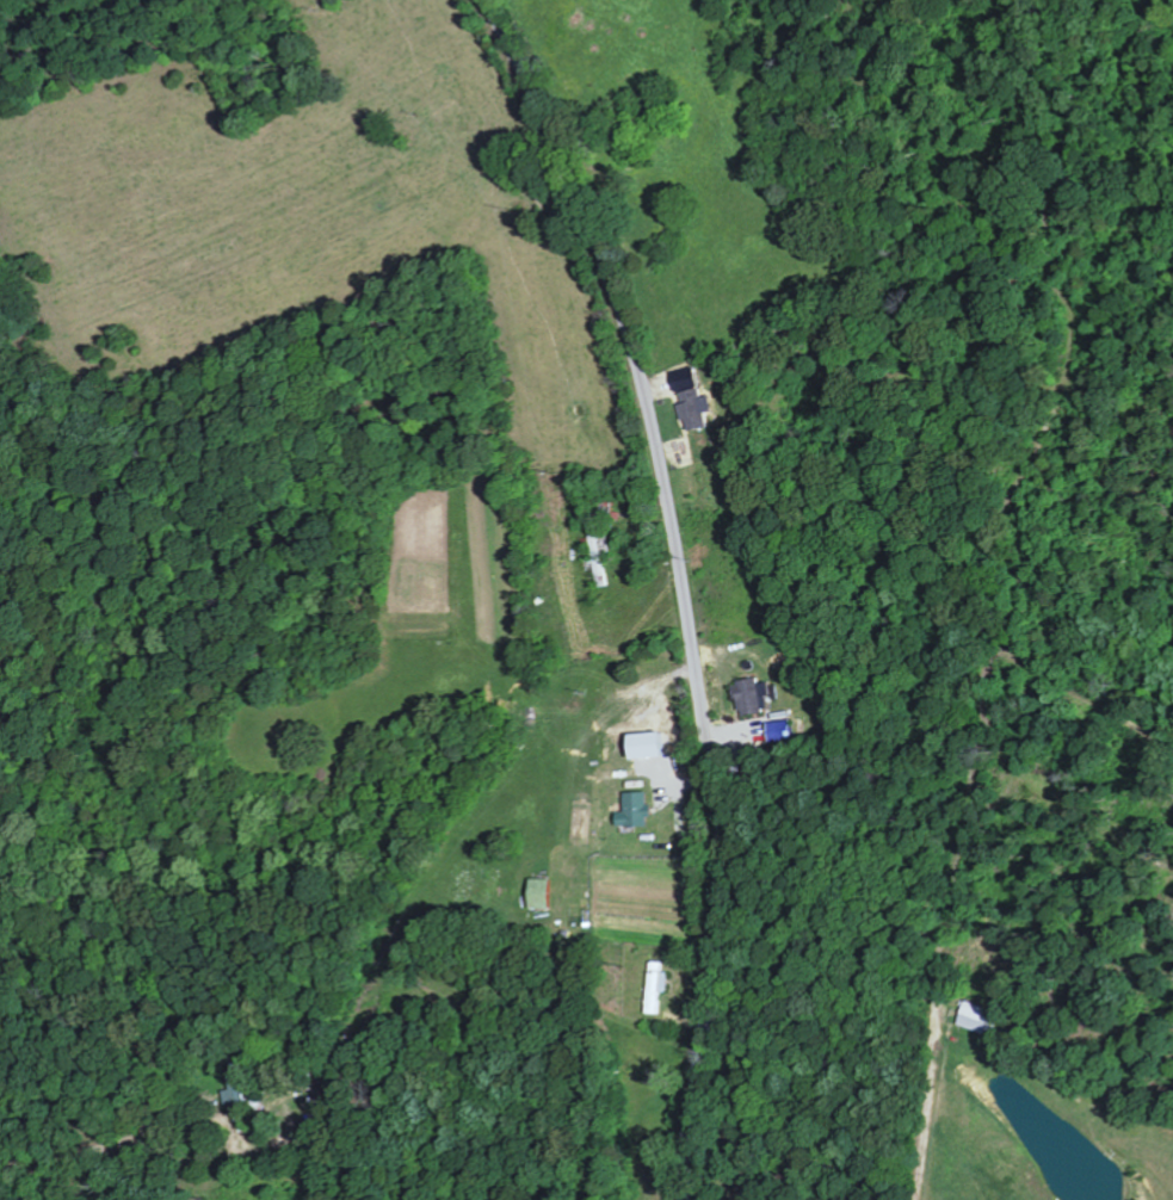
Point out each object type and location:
building: (687, 400)
road: (679, 584)
building: (748, 697)
building: (631, 811)
building: (654, 988)
building: (977, 1020)

